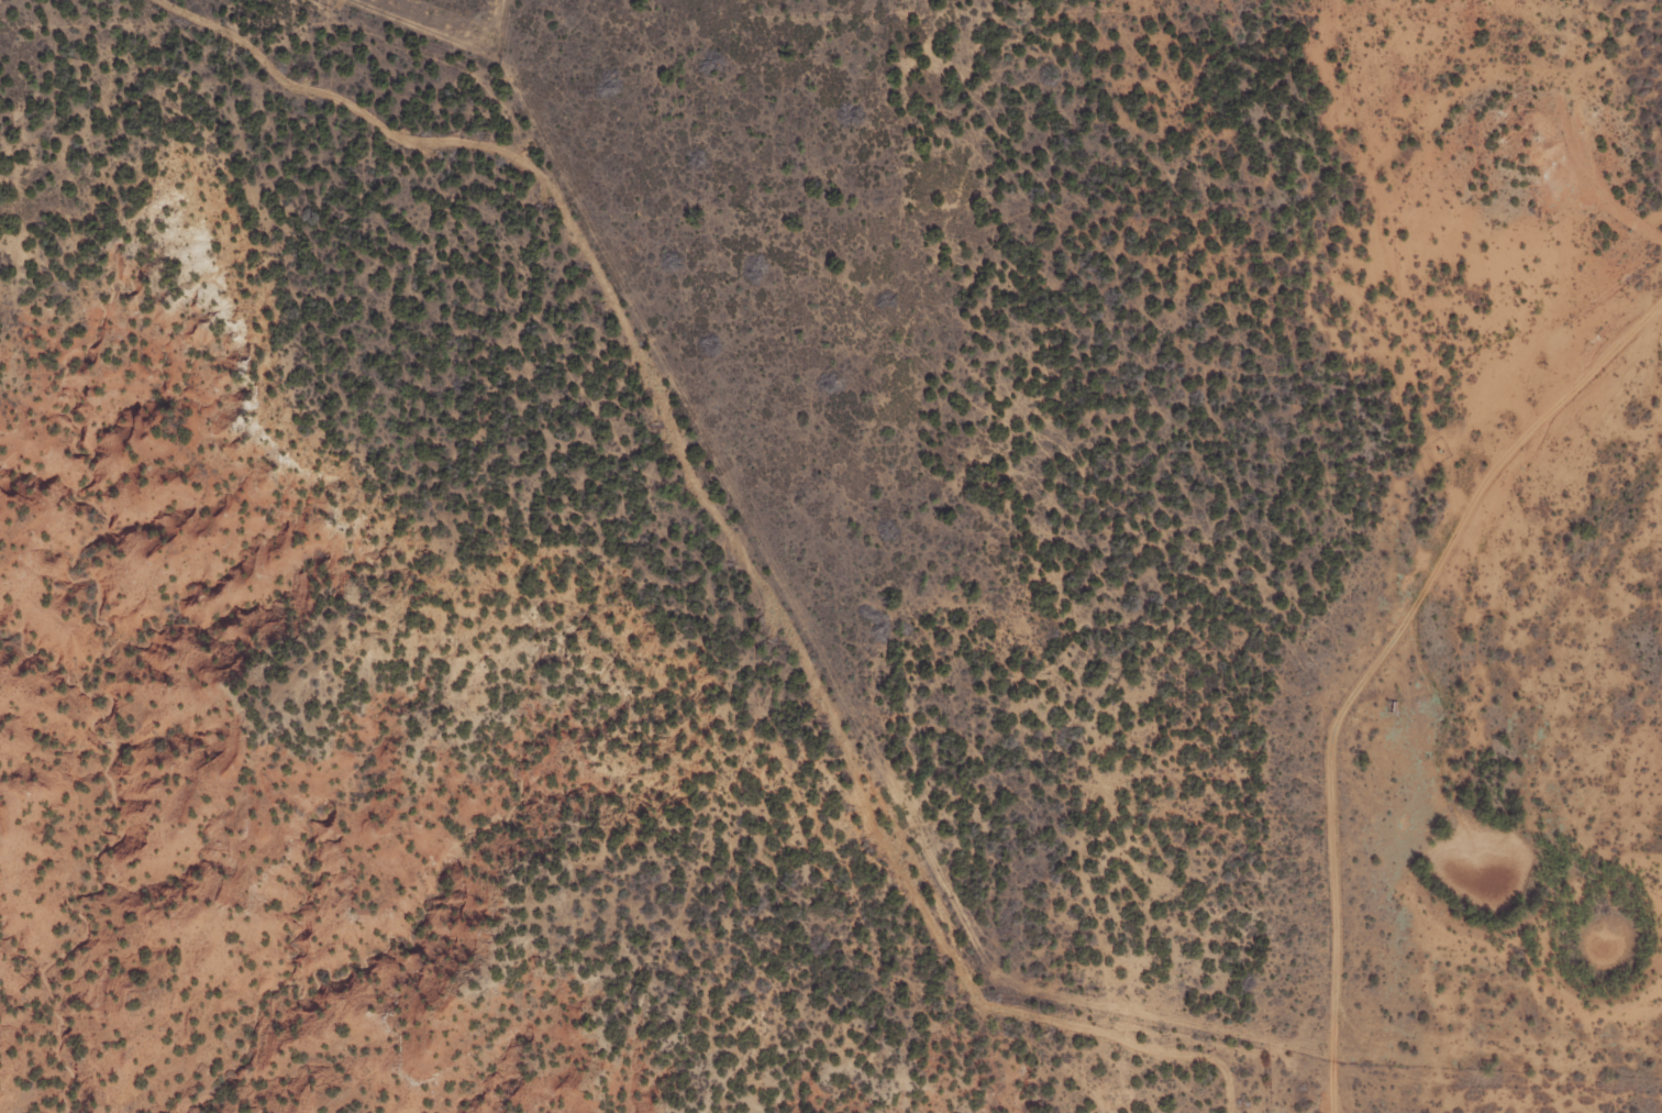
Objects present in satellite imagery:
road: (1370, 632)

